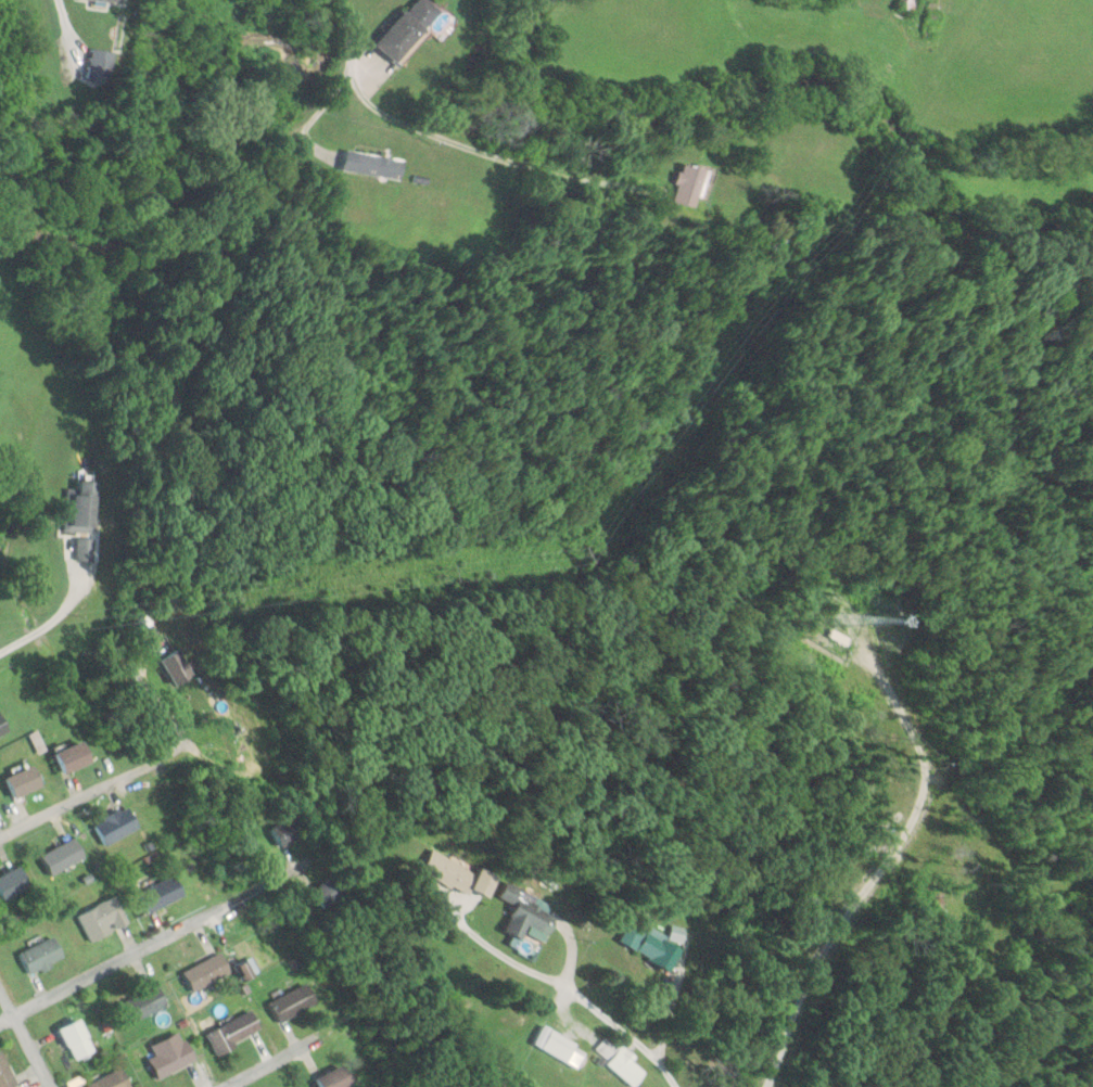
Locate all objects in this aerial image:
building: (114, 0)
building: (407, 28)
road: (343, 37)
building: (370, 164)
building: (687, 186)
building: (766, 245)
building: (81, 508)
building: (85, 549)
power tower: (564, 552)
road: (20, 636)
building: (177, 666)
building: (72, 756)
road: (123, 777)
building: (23, 781)
building: (115, 826)
building: (287, 830)
building: (63, 855)
building: (448, 872)
building: (161, 894)
building: (524, 913)
building: (101, 919)
road: (183, 936)
building: (654, 949)
building: (40, 955)
building: (206, 972)
building: (291, 1003)
building: (141, 1005)
road: (373, 1025)
building: (233, 1033)
building: (76, 1038)
road: (24, 1044)
building: (558, 1046)
building: (169, 1054)
building: (626, 1067)
building: (5, 1074)
building: (334, 1078)
building: (111, 1080)

